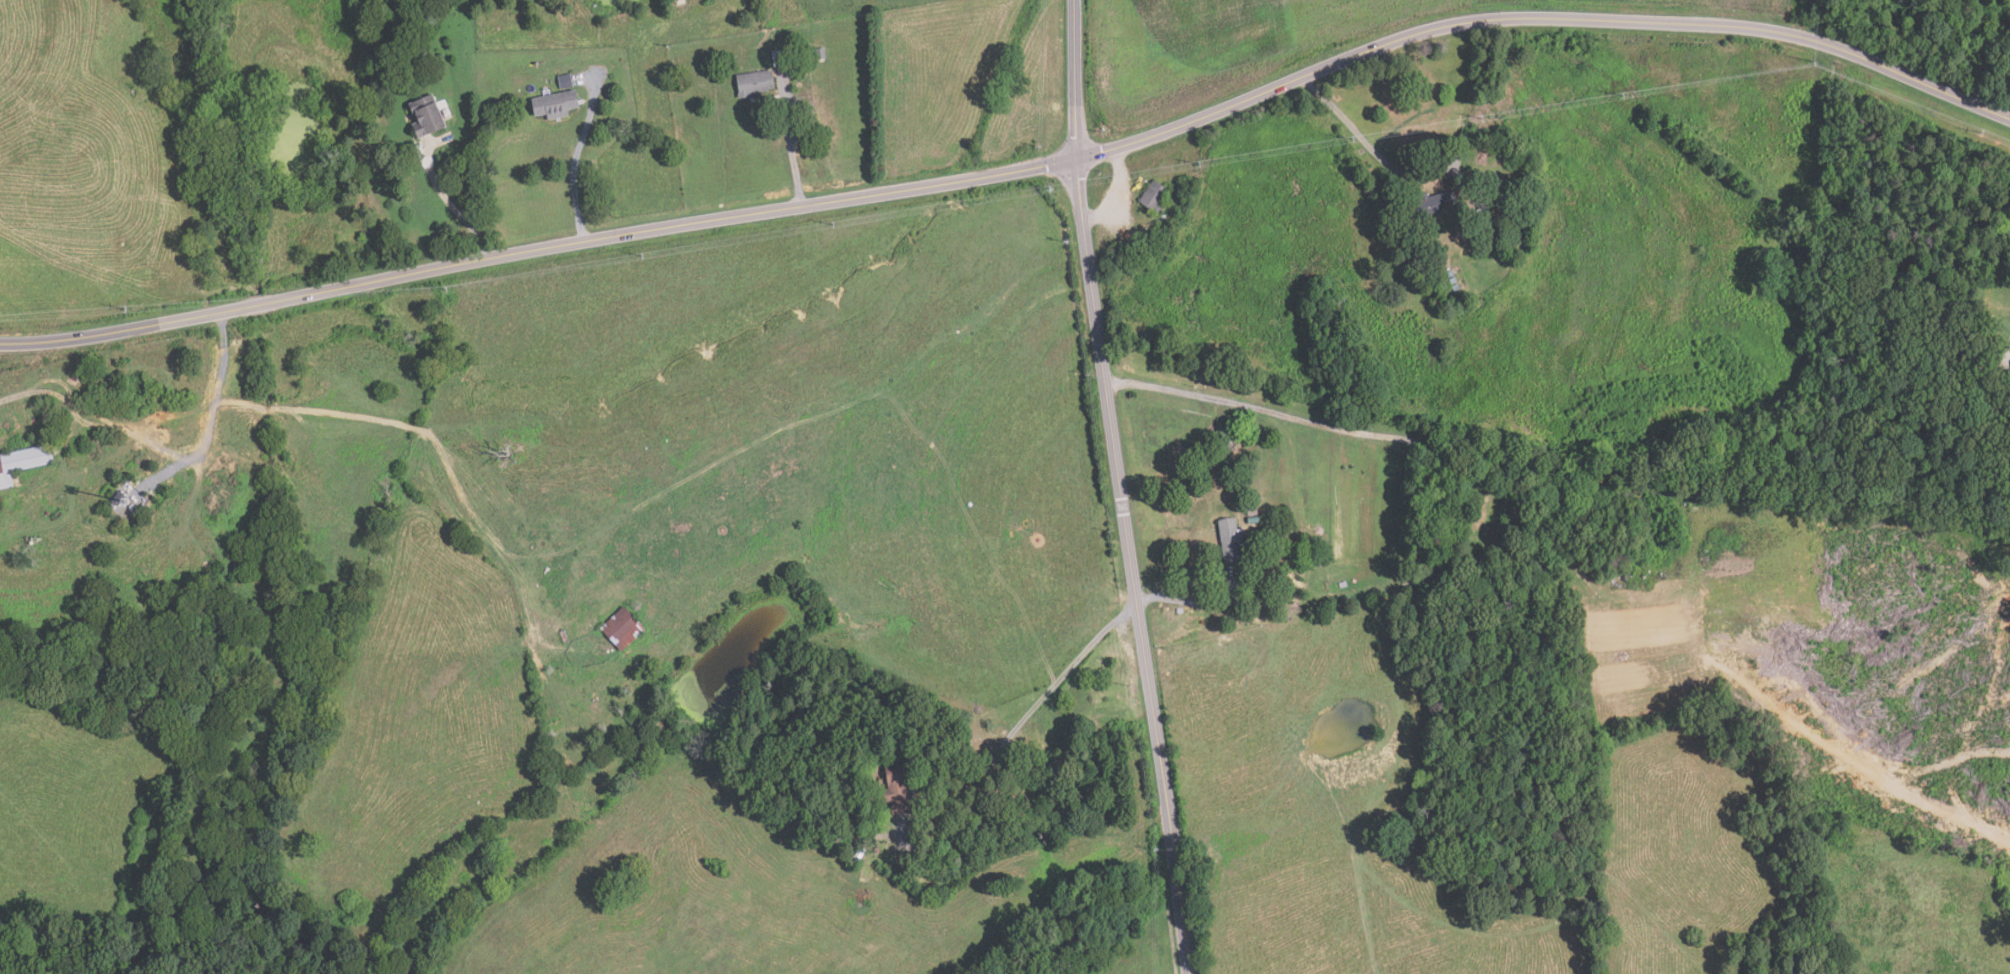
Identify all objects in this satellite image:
road: (1376, 21)
road: (1660, 24)
building: (423, 50)
road: (1090, 50)
road: (1078, 51)
building: (822, 52)
building: (780, 58)
power tower: (1813, 62)
building: (567, 80)
building: (754, 83)
road: (1213, 92)
road: (1101, 95)
power tower: (1622, 96)
road: (1213, 103)
building: (558, 104)
building: (430, 116)
power tower: (1481, 119)
road: (1353, 127)
power tower: (1980, 133)
river: (302, 140)
power tower: (1352, 140)
road: (791, 155)
road: (993, 161)
power tower: (1198, 165)
road: (994, 169)
road: (572, 172)
power tower: (1049, 189)
building: (1154, 198)
building: (1431, 202)
road: (449, 203)
road: (1115, 203)
road: (1102, 204)
power tower: (834, 225)
building: (1514, 232)
power tower: (643, 257)
road: (458, 264)
power tower: (447, 289)
power tower: (126, 310)
road: (2009, 344)
building: (2008, 377)
road: (220, 381)
road: (17, 395)
road: (1265, 411)
road: (113, 428)
building: (1227, 434)
building: (24, 463)
building: (1546, 485)
building: (1250, 511)
building: (1252, 520)
building: (1492, 520)
building: (1228, 539)
building: (1318, 559)
road: (1226, 584)
building: (1341, 584)
road: (1138, 610)
building: (625, 628)
road: (1024, 717)
building: (895, 787)
building: (852, 827)
building: (858, 852)
building: (848, 857)

